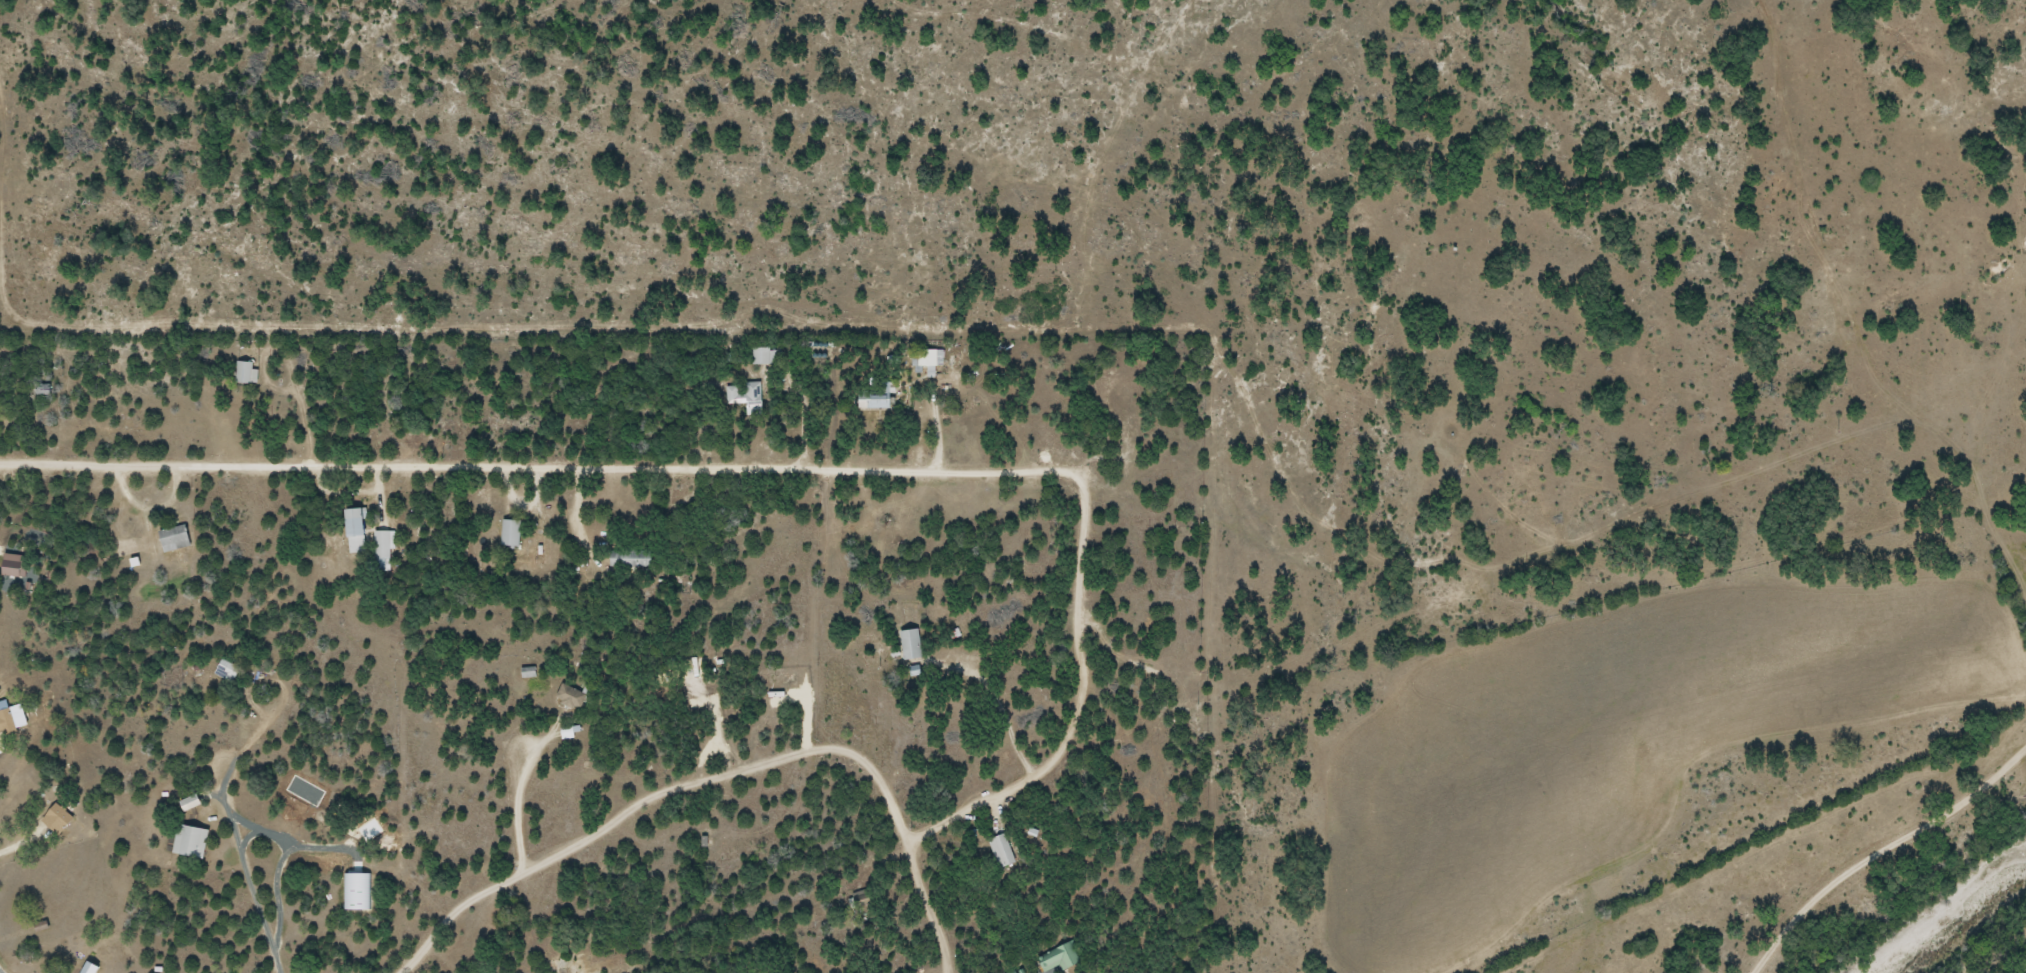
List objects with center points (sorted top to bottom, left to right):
building: (763, 356)
building: (927, 360)
building: (246, 371)
building: (40, 389)
building: (745, 398)
building: (875, 398)
road: (738, 481)
building: (356, 524)
building: (511, 531)
building: (175, 537)
building: (384, 548)
building: (631, 556)
building: (11, 564)
building: (912, 642)
building: (229, 667)
building: (572, 696)
road: (743, 778)
building: (191, 801)
road: (1941, 811)
building: (60, 816)
building: (192, 841)
building: (1002, 850)
road: (1804, 921)
road: (895, 926)
road: (482, 938)
building: (1060, 957)

